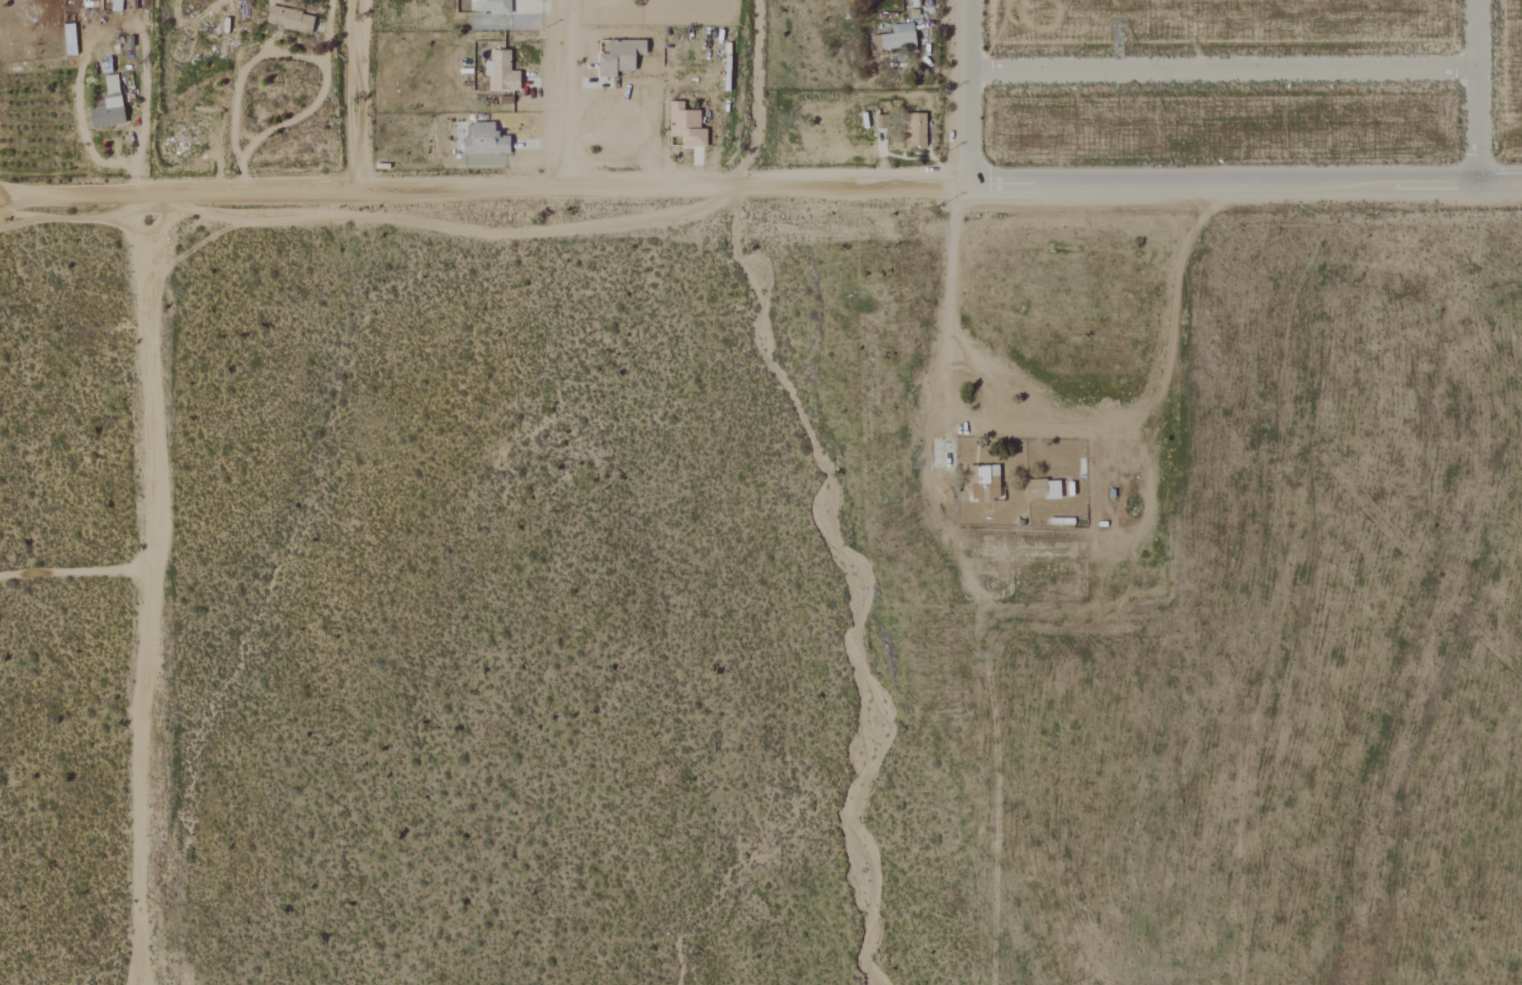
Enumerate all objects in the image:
building: (114, 6)
building: (492, 6)
building: (288, 20)
road: (108, 29)
building: (895, 39)
building: (617, 57)
road: (1227, 68)
road: (970, 91)
road: (1483, 91)
building: (110, 92)
road: (556, 92)
road: (753, 93)
road: (360, 94)
building: (103, 117)
building: (684, 127)
road: (1243, 183)
road: (482, 185)
road: (952, 271)
road: (992, 384)
road: (74, 572)
road: (150, 588)
road: (979, 701)

